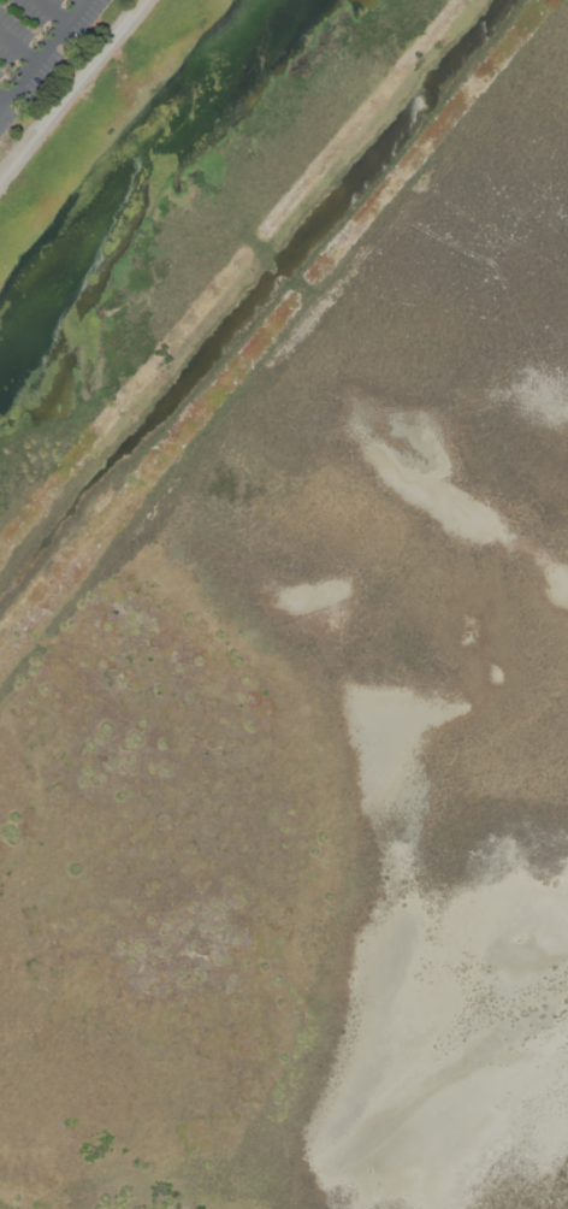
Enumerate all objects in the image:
road: (54, 10)
road: (18, 45)
road: (41, 51)
road: (1, 96)
airport: (288, 613)

